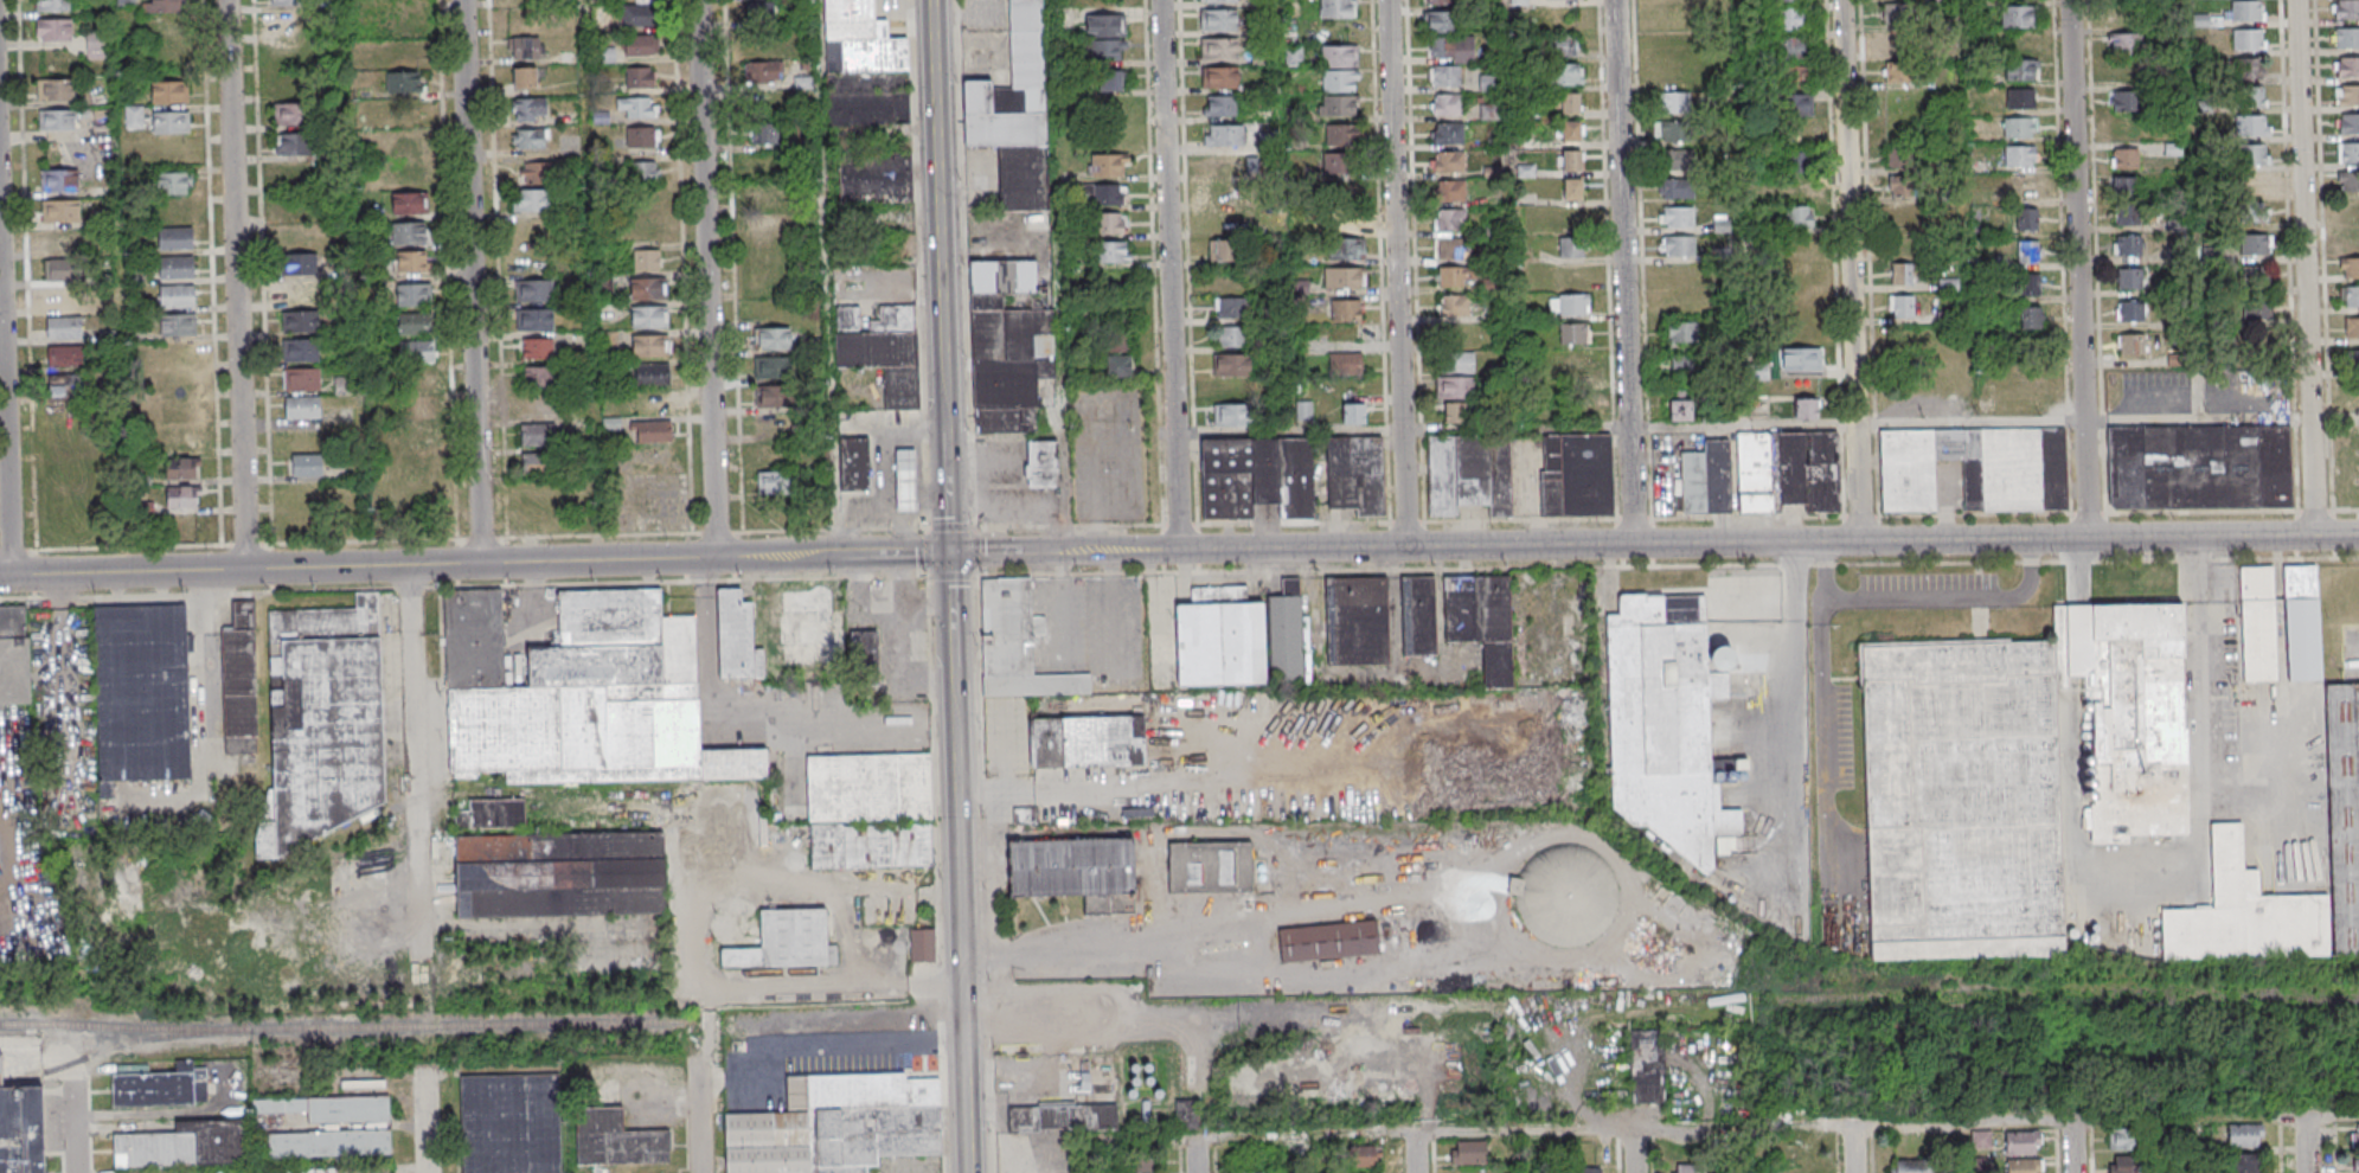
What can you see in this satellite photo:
building: (1566, 0)
building: (1218, 1)
building: (1793, 1)
building: (124, 2)
building: (293, 2)
building: (1445, 2)
building: (56, 6)
building: (168, 6)
building: (1338, 9)
building: (2348, 11)
building: (1899, 13)
building: (2249, 13)
building: (642, 17)
building: (759, 17)
building: (2024, 18)
building: (1794, 20)
building: (2201, 20)
building: (1220, 21)
building: (1447, 24)
building: (1110, 27)
building: (57, 30)
building: (2348, 39)
building: (2250, 41)
building: (1895, 43)
building: (2121, 43)
building: (95, 45)
building: (645, 47)
building: (1565, 47)
building: (1794, 49)
building: (1222, 50)
building: (1456, 50)
building: (528, 51)
building: (1113, 52)
building: (605, 55)
building: (1295, 56)
building: (1340, 58)
building: (864, 66)
building: (2351, 69)
building: (763, 71)
building: (2251, 71)
building: (1900, 72)
building: (2023, 72)
building: (1569, 76)
building: (1447, 77)
building: (1222, 78)
building: (1796, 78)
building: (530, 79)
building: (642, 79)
building: (802, 82)
building: (1114, 83)
building: (1340, 83)
building: (406, 84)
building: (58, 91)
building: (173, 95)
building: (2352, 97)
building: (2251, 100)
building: (2024, 101)
building: (2123, 101)
building: (1672, 103)
building: (1573, 104)
building: (1449, 105)
building: (1892, 105)
building: (1341, 107)
building: (1797, 107)
building: (1223, 108)
building: (639, 109)
building: (533, 110)
building: (1015, 113)
building: (101, 115)
building: (295, 116)
building: (137, 118)
building: (59, 122)
building: (173, 124)
building: (2351, 126)
building: (2252, 128)
building: (2023, 129)
building: (765, 132)
building: (1671, 132)
building: (1575, 134)
building: (1450, 135)
building: (1227, 136)
building: (1342, 136)
building: (645, 139)
building: (534, 140)
building: (297, 147)
building: (2350, 155)
building: (2254, 156)
building: (1900, 158)
building: (2124, 158)
building: (1678, 159)
building: (2024, 159)
building: (1223, 162)
building: (1451, 164)
building: (1575, 164)
building: (1342, 165)
building: (1110, 167)
building: (536, 171)
building: (647, 174)
building: (1790, 174)
building: (876, 178)
building: (63, 182)
building: (2351, 184)
building: (177, 185)
building: (2254, 185)
building: (1902, 186)
building: (1678, 188)
building: (2124, 190)
road: (1286, 191)
building: (1451, 192)
building: (1576, 192)
building: (769, 194)
building: (1111, 197)
road: (498, 198)
building: (534, 203)
building: (412, 206)
building: (2350, 210)
road: (1059, 212)
building: (65, 213)
building: (2254, 213)
building: (1902, 214)
building: (1678, 216)
building: (1799, 216)
building: (2026, 219)
building: (1453, 223)
building: (1345, 224)
building: (1111, 225)
building: (412, 236)
building: (2350, 238)
building: (179, 241)
building: (64, 244)
building: (2128, 244)
building: (1679, 245)
building: (2256, 245)
building: (1346, 249)
building: (1575, 249)
building: (1222, 250)
building: (1455, 250)
building: (2028, 251)
building: (1113, 254)
building: (649, 261)
building: (417, 263)
road: (2309, 267)
building: (301, 268)
building: (180, 269)
road: (2082, 269)
building: (2352, 269)
road: (449, 270)
road: (1853, 270)
road: (1627, 271)
building: (65, 273)
road: (1399, 273)
building: (1902, 273)
road: (1173, 275)
road: (944, 276)
road: (831, 277)
building: (2130, 277)
building: (2258, 277)
road: (711, 278)
road: (592, 280)
building: (1457, 280)
building: (1347, 281)
road: (475, 282)
road: (239, 284)
building: (2027, 284)
building: (650, 290)
building: (297, 293)
building: (538, 294)
building: (417, 297)
building: (2352, 297)
building: (180, 299)
building: (65, 301)
building: (1900, 306)
building: (1576, 307)
building: (1457, 308)
building: (2258, 309)
building: (1232, 310)
building: (1347, 313)
building: (2132, 313)
building: (847, 318)
building: (2028, 318)
building: (650, 320)
building: (538, 321)
building: (302, 323)
building: (418, 325)
building: (181, 327)
building: (68, 328)
building: (2351, 328)
building: (1682, 332)
building: (1577, 335)
building: (1233, 339)
building: (774, 340)
building: (1009, 345)
building: (1120, 345)
building: (2133, 346)
building: (653, 348)
building: (539, 350)
building: (305, 353)
building: (419, 353)
building: (886, 353)
building: (66, 358)
building: (2354, 359)
building: (1801, 360)
road: (7, 361)
building: (1346, 364)
building: (1460, 364)
building: (1573, 366)
road: (31, 367)
building: (1681, 367)
building: (1121, 368)
building: (1233, 368)
building: (775, 370)
building: (655, 377)
building: (541, 378)
building: (306, 382)
building: (421, 383)
building: (342, 384)
building: (69, 387)
building: (1457, 389)
building: (1231, 390)
building: (775, 398)
road: (2162, 402)
building: (1806, 408)
building: (306, 409)
building: (421, 411)
building: (1680, 411)
building: (1354, 414)
building: (1454, 414)
building: (1236, 418)
road: (2336, 418)
road: (1973, 424)
road: (1518, 430)
building: (655, 435)
building: (421, 437)
building: (541, 437)
building: (1041, 463)
building: (543, 466)
building: (857, 466)
building: (309, 467)
building: (2200, 467)
building: (1975, 468)
building: (184, 470)
building: (1355, 474)
building: (1469, 474)
building: (1577, 475)
building: (1257, 476)
building: (1763, 477)
building: (2347, 481)
building: (775, 482)
building: (909, 483)
building: (184, 499)
road: (1181, 526)
road: (955, 527)
road: (719, 533)
road: (485, 539)
road: (1717, 541)
road: (249, 545)
road: (19, 551)
road: (1015, 551)
traffic signals: (955, 552)
road: (878, 553)
road: (400, 565)
road: (1925, 595)
building: (806, 600)
building: (1418, 615)
building: (1357, 621)
building: (1481, 621)
building: (2257, 623)
building: (2302, 623)
building: (1286, 632)
road: (63, 634)
building: (737, 636)
building: (1219, 639)
road: (956, 640)
building: (1017, 645)
building: (864, 648)
building: (13, 654)
road: (203, 675)
building: (239, 682)
building: (141, 693)
building: (582, 694)
road: (2192, 699)
road: (1794, 720)
building: (322, 722)
building: (1666, 724)
road: (1821, 724)
road: (748, 729)
building: (1086, 742)
building: (2342, 754)
road: (414, 763)
building: (2007, 776)
building: (868, 787)
road: (1143, 787)
road: (985, 793)
building: (496, 812)
building: (1025, 815)
building: (871, 845)
building: (1210, 867)
building: (1075, 871)
building: (559, 873)
building: (1565, 897)
road: (1150, 937)
building: (1328, 941)
building: (786, 942)
building: (922, 944)
road: (966, 949)
railway: (438, 1023)
road: (850, 1043)
railway: (107, 1047)
road: (24, 1050)
road: (63, 1063)
building: (1647, 1066)
building: (1088, 1084)
building: (161, 1087)
building: (333, 1109)
road: (571, 1115)
road: (697, 1115)
road: (423, 1118)
building: (1062, 1118)
road: (2107, 1118)
building: (507, 1124)
building: (838, 1124)
road: (73, 1127)
building: (21, 1130)
road: (1524, 1132)
building: (2354, 1134)
building: (2244, 1135)
building: (1981, 1139)
building: (2123, 1139)
building: (616, 1140)
building: (2020, 1142)
road: (2308, 1142)
building: (328, 1143)
building: (184, 1145)
road: (2191, 1145)
road: (2073, 1146)
road: (1962, 1147)
road: (1854, 1148)
road: (2282, 1148)
road: (1744, 1149)
road: (2336, 1149)
road: (1637, 1150)
road: (1654, 1150)
building: (1468, 1152)
road: (1525, 1152)
road: (2059, 1152)
road: (2094, 1152)
road: (1412, 1153)
road: (1304, 1154)
road: (1193, 1155)
road: (1091, 1156)
building: (1360, 1156)
road: (1621, 1156)
building: (2245, 1162)
building: (2355, 1162)
building: (1143, 1165)
building: (2123, 1165)
building: (1910, 1166)
building: (2024, 1166)
building: (1589, 1169)
building: (1690, 1169)
building: (1245, 1172)

